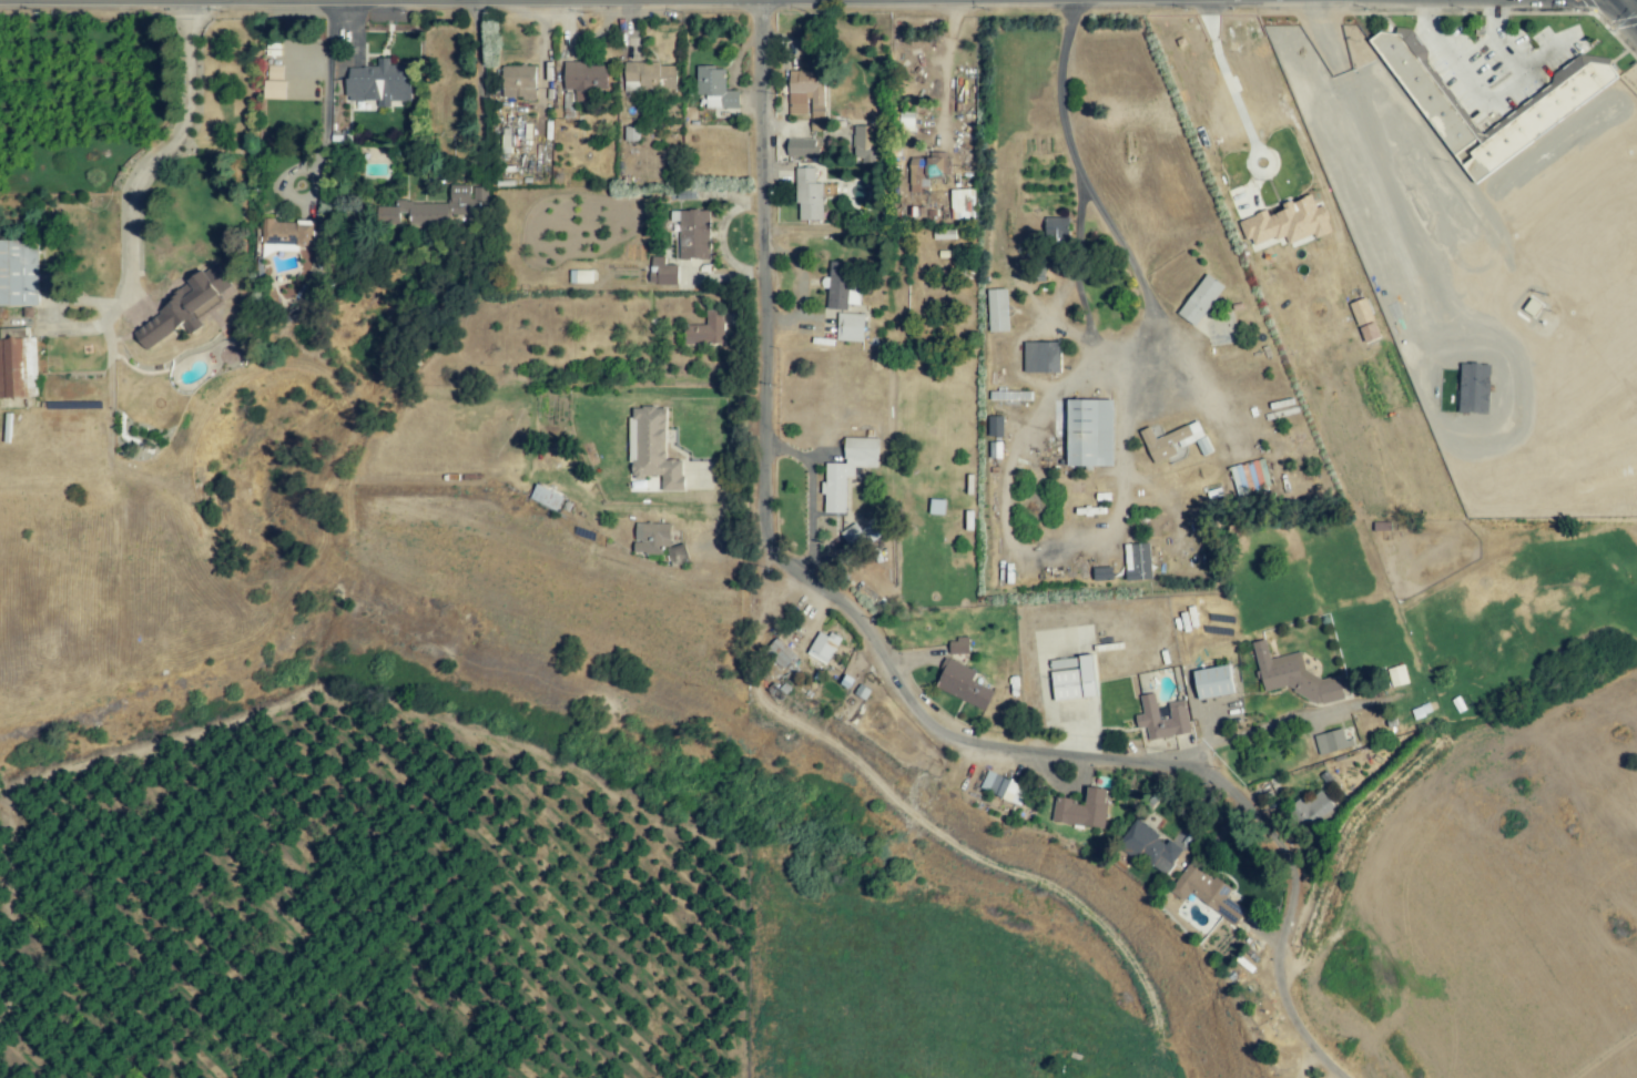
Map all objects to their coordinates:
road: (1629, 7)
parking lot: (1504, 70)
building: (650, 77)
building: (584, 80)
building: (518, 81)
building: (379, 83)
road: (478, 88)
building: (715, 88)
road: (1061, 89)
building: (275, 90)
road: (1230, 92)
building: (1424, 92)
road: (327, 95)
building: (807, 96)
road: (1489, 98)
building: (1541, 119)
building: (631, 133)
building: (865, 144)
building: (802, 148)
road: (166, 152)
building: (927, 171)
building: (809, 194)
building: (962, 204)
building: (436, 209)
building: (1288, 223)
building: (1057, 227)
building: (287, 233)
building: (693, 234)
road: (1420, 255)
building: (662, 272)
building: (19, 273)
building: (580, 276)
building: (841, 287)
building: (1200, 299)
building: (182, 309)
building: (997, 309)
building: (1364, 319)
building: (850, 327)
building: (705, 330)
building: (1041, 357)
building: (18, 368)
building: (1474, 388)
building: (995, 426)
building: (1089, 433)
building: (1173, 443)
building: (653, 448)
building: (995, 450)
building: (847, 470)
road: (810, 491)
building: (546, 497)
building: (852, 535)
building: (651, 537)
road: (1049, 550)
building: (677, 555)
building: (1137, 561)
building: (1101, 573)
building: (958, 645)
building: (823, 647)
building: (777, 653)
road: (892, 669)
building: (1397, 675)
building: (1293, 677)
building: (1072, 678)
building: (1213, 682)
building: (963, 684)
building: (1162, 718)
road: (1275, 721)
building: (1331, 741)
building: (1004, 787)
building: (1082, 810)
building: (1312, 810)
building: (1149, 847)
building: (1207, 892)
crop: (353, 916)

